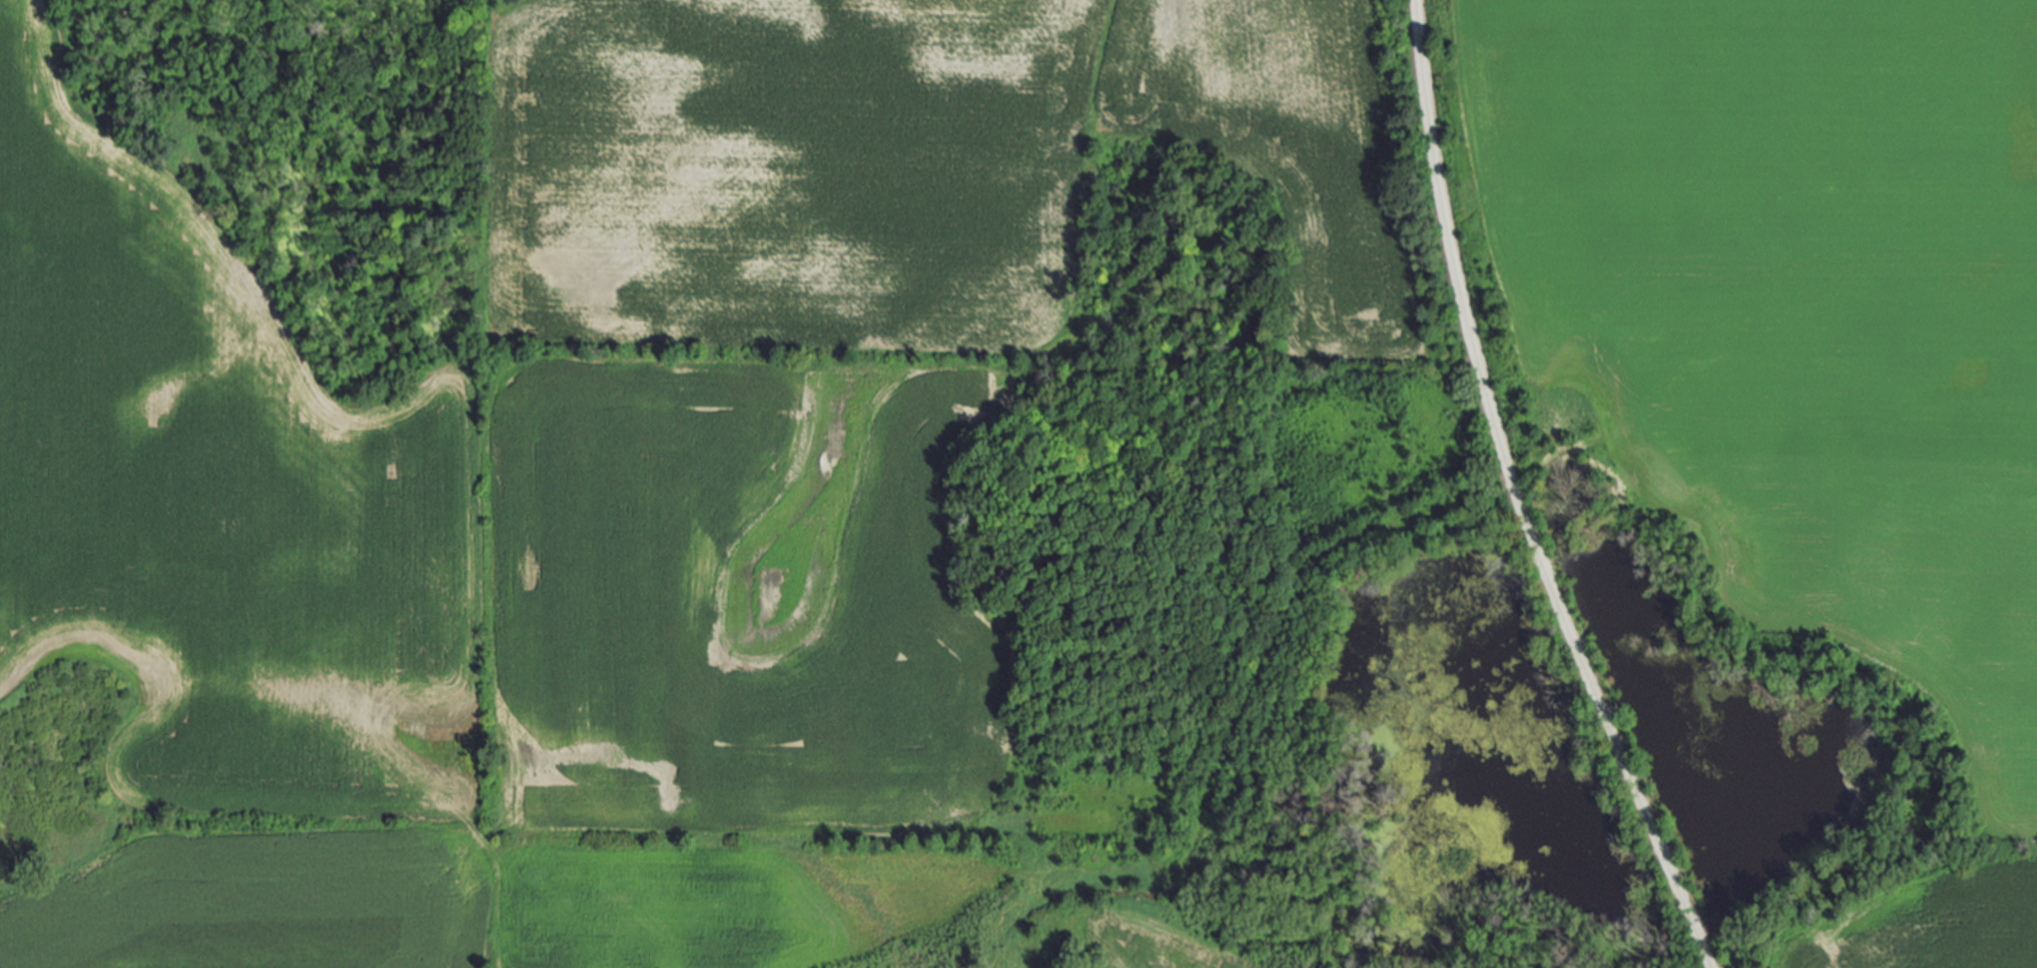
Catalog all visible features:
road: (1531, 493)

